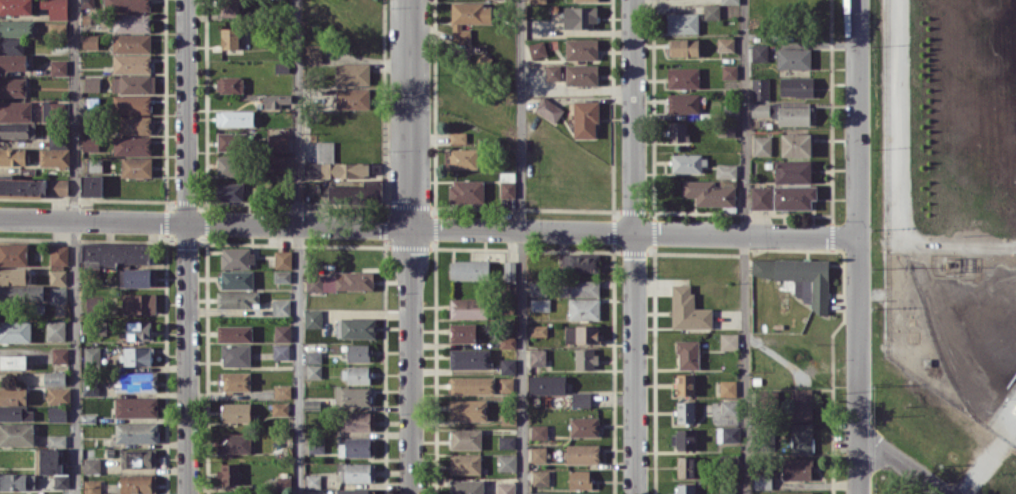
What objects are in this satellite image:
building: (537, 0)
building: (585, 0)
building: (730, 1)
building: (86, 4)
building: (127, 5)
building: (16, 7)
building: (230, 7)
building: (56, 8)
building: (711, 11)
building: (579, 17)
building: (468, 18)
building: (131, 22)
building: (682, 23)
building: (58, 27)
building: (16, 28)
building: (229, 38)
building: (90, 41)
building: (131, 43)
building: (11, 44)
building: (726, 44)
building: (684, 47)
building: (537, 49)
building: (581, 49)
building: (759, 52)
building: (314, 54)
building: (793, 58)
building: (13, 61)
building: (131, 63)
building: (58, 67)
building: (729, 71)
building: (553, 72)
building: (352, 73)
building: (581, 74)
building: (683, 77)
building: (136, 83)
building: (91, 84)
building: (229, 84)
building: (12, 86)
building: (796, 86)
building: (760, 88)
building: (352, 98)
building: (276, 100)
building: (683, 103)
building: (132, 104)
building: (53, 108)
building: (549, 109)
building: (760, 109)
building: (15, 111)
building: (731, 111)
road: (411, 112)
building: (794, 115)
building: (235, 118)
building: (585, 119)
building: (135, 124)
building: (17, 130)
building: (677, 131)
building: (457, 137)
building: (234, 140)
building: (57, 141)
building: (277, 142)
building: (90, 143)
building: (796, 144)
building: (132, 145)
building: (762, 145)
building: (12, 156)
building: (54, 157)
building: (464, 158)
building: (278, 162)
building: (688, 163)
building: (333, 165)
building: (227, 166)
building: (136, 167)
building: (726, 171)
building: (793, 171)
road: (898, 178)
building: (91, 185)
building: (59, 186)
building: (23, 187)
building: (229, 191)
building: (357, 191)
building: (466, 191)
building: (711, 192)
building: (761, 197)
building: (794, 197)
road: (856, 219)
road: (206, 220)
road: (634, 230)
road: (75, 246)
road: (187, 246)
road: (635, 246)
road: (299, 247)
road: (521, 247)
road: (746, 247)
building: (13, 253)
building: (116, 253)
building: (59, 254)
building: (236, 257)
building: (283, 259)
building: (578, 262)
building: (469, 269)
building: (509, 270)
building: (15, 275)
building: (282, 276)
building: (58, 277)
building: (137, 277)
building: (799, 278)
building: (237, 279)
building: (339, 281)
building: (538, 288)
building: (578, 288)
building: (21, 293)
building: (58, 294)
building: (236, 298)
building: (139, 303)
building: (92, 304)
building: (540, 304)
building: (281, 307)
building: (468, 307)
building: (584, 308)
building: (688, 309)
building: (313, 318)
building: (355, 327)
building: (55, 330)
building: (138, 330)
building: (538, 330)
building: (15, 331)
building: (282, 332)
building: (462, 332)
building: (234, 333)
building: (581, 334)
building: (729, 341)
building: (508, 342)
building: (281, 351)
building: (357, 352)
building: (687, 354)
building: (60, 355)
building: (235, 355)
building: (92, 356)
building: (137, 356)
building: (537, 357)
building: (469, 358)
building: (585, 358)
road: (412, 359)
building: (13, 361)
building: (314, 364)
building: (507, 366)
building: (356, 374)
building: (54, 377)
building: (137, 381)
building: (236, 381)
building: (546, 384)
building: (685, 384)
building: (472, 385)
building: (90, 387)
building: (728, 388)
building: (282, 391)
building: (58, 395)
building: (13, 396)
building: (352, 396)
building: (580, 399)
building: (801, 404)
building: (136, 406)
building: (729, 407)
building: (280, 408)
building: (468, 409)
building: (685, 411)
building: (236, 412)
building: (16, 413)
building: (57, 413)
building: (358, 421)
building: (584, 426)
building: (136, 432)
building: (538, 432)
building: (16, 433)
building: (729, 434)
building: (465, 438)
building: (801, 438)
building: (56, 440)
building: (683, 440)
building: (236, 442)
building: (506, 442)
building: (315, 445)
building: (356, 447)
building: (583, 453)
building: (538, 454)
building: (138, 458)
building: (506, 462)
building: (465, 464)
building: (91, 465)
building: (52, 466)
building: (685, 466)
road: (856, 466)
road: (895, 466)
building: (796, 468)
building: (356, 472)
building: (228, 473)
building: (540, 477)
building: (579, 479)
building: (762, 480)
building: (17, 481)
building: (312, 481)
building: (138, 483)
building: (92, 486)
building: (466, 486)
building: (505, 487)
building: (685, 488)
building: (352, 491)
building: (727, 491)
building: (794, 492)
building: (237, 493)
building: (539, 493)
building: (581, 493)

